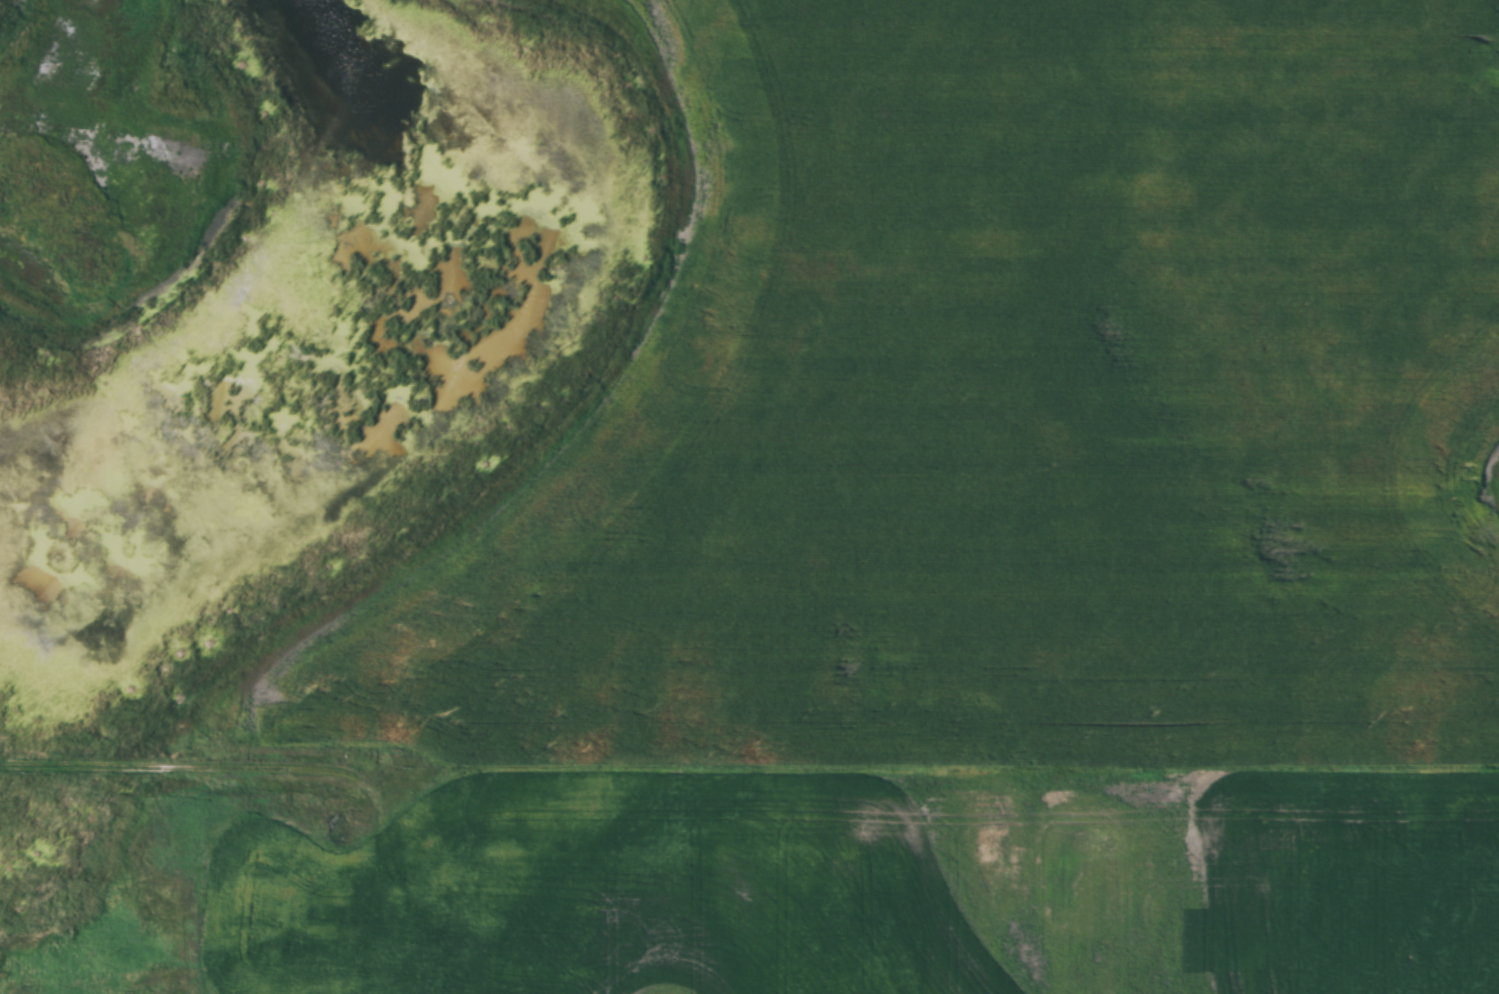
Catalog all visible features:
road: (189, 770)

